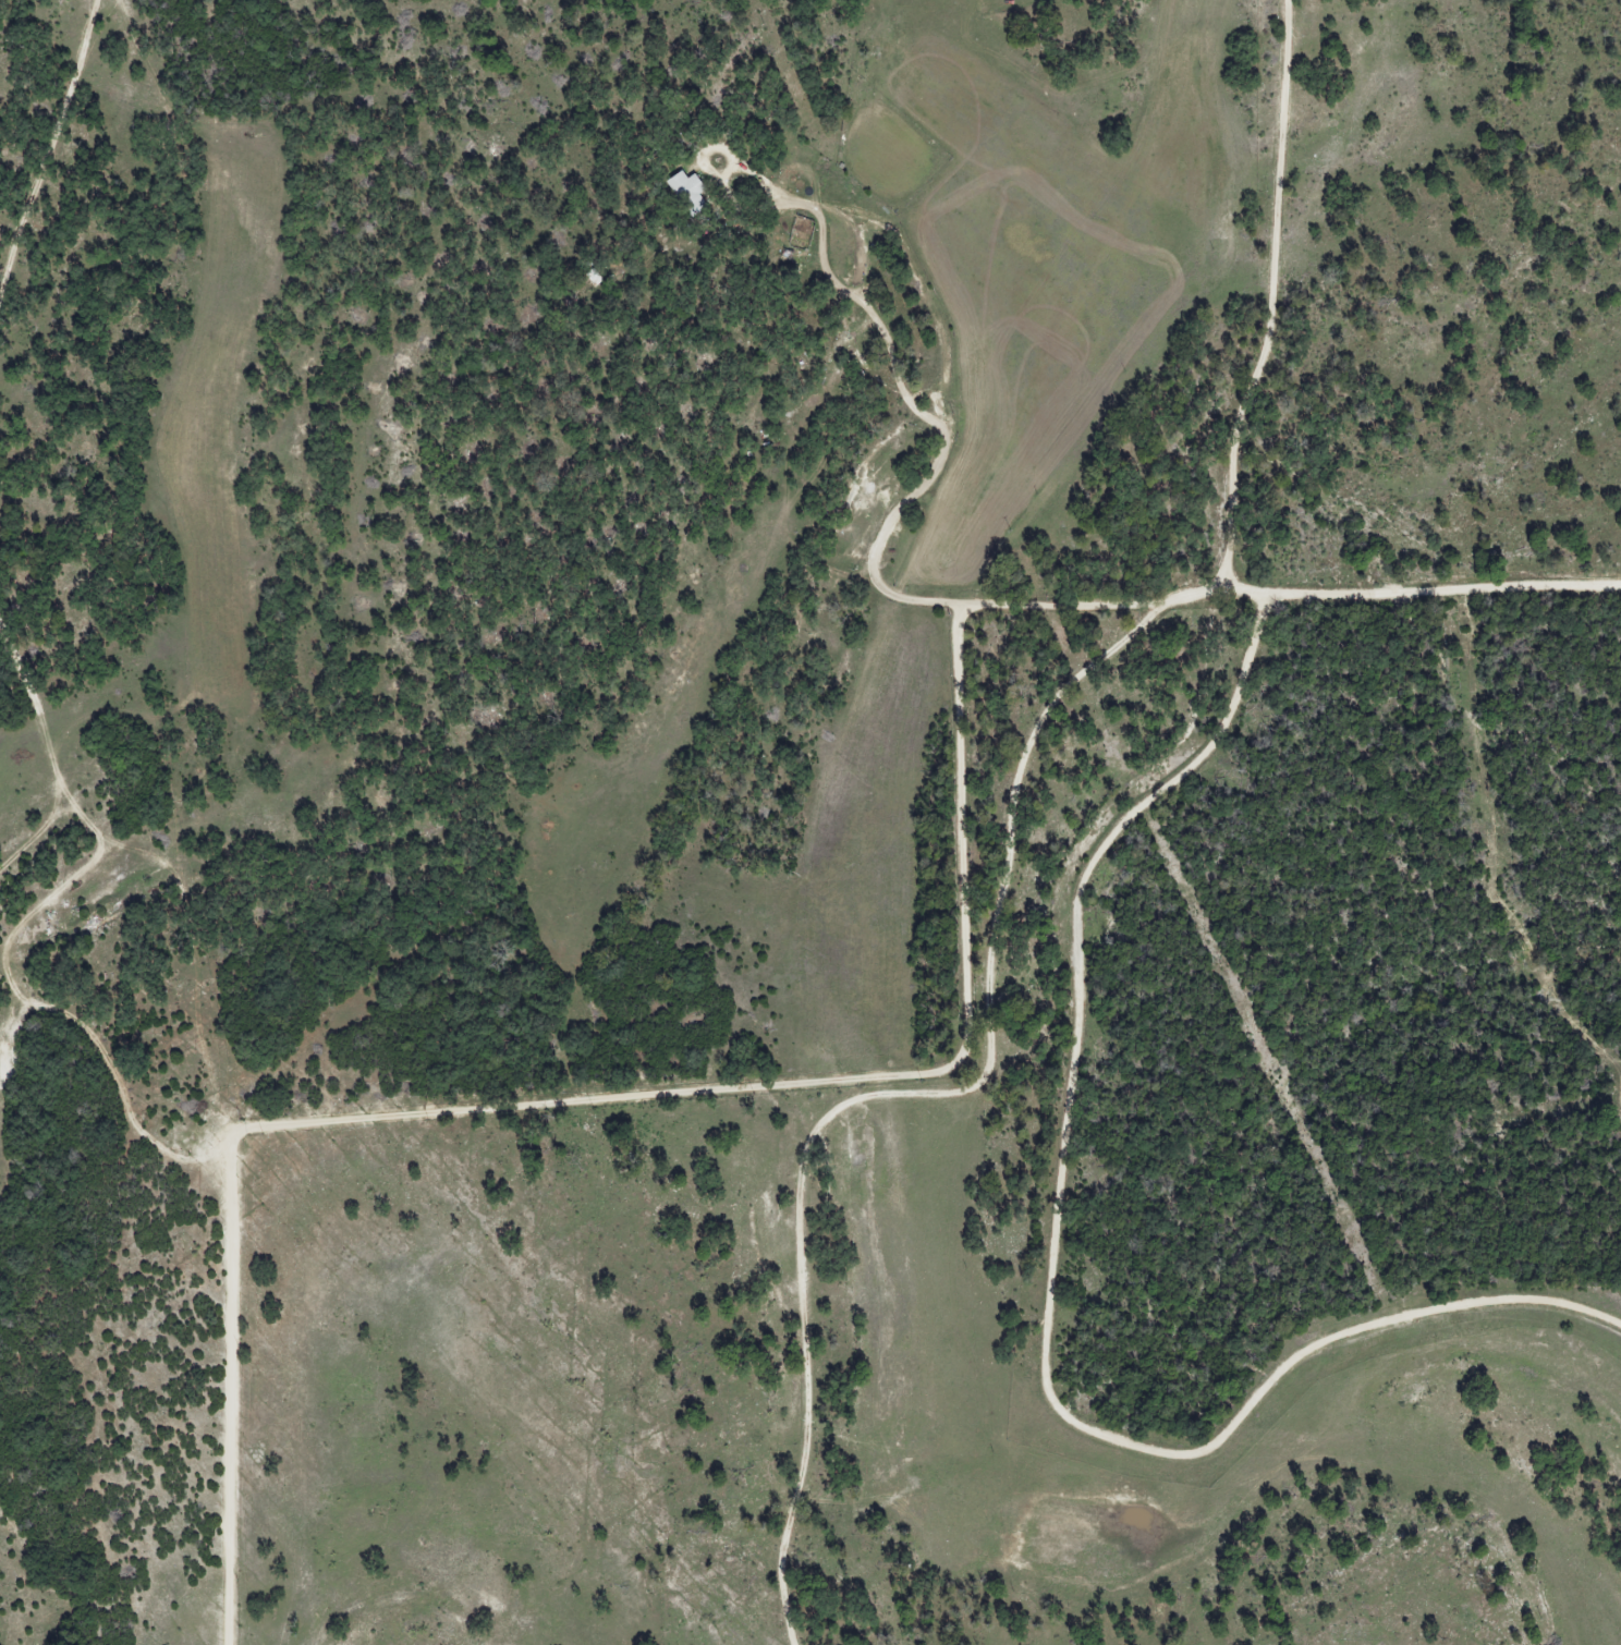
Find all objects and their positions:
road: (56, 133)
building: (688, 192)
road: (1203, 658)
road: (37, 748)
road: (898, 1074)

